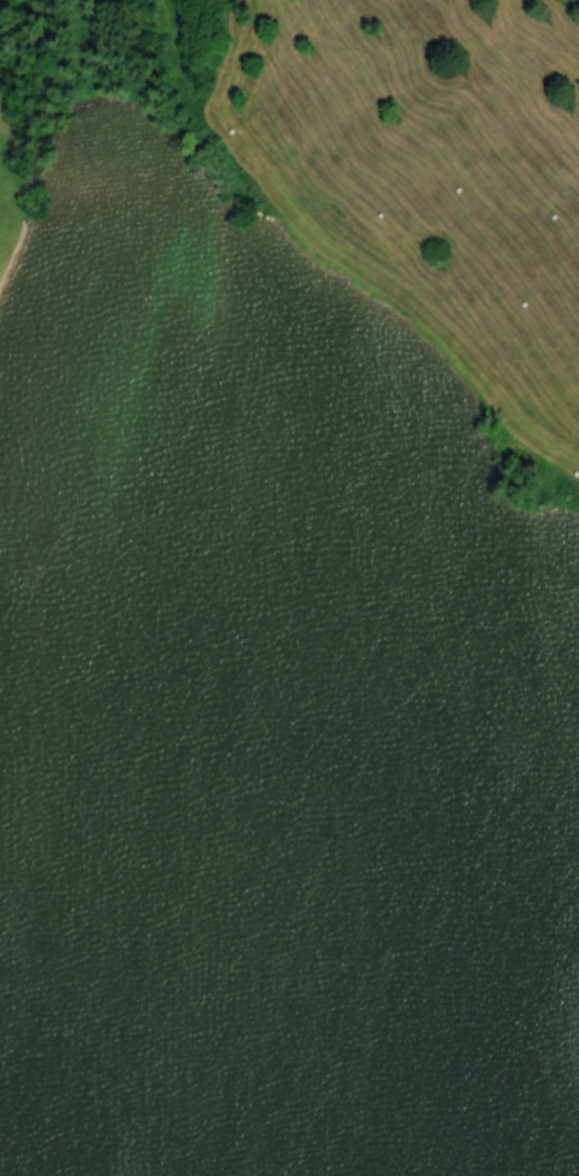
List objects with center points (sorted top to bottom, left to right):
road: (345, 258)
park: (289, 587)

